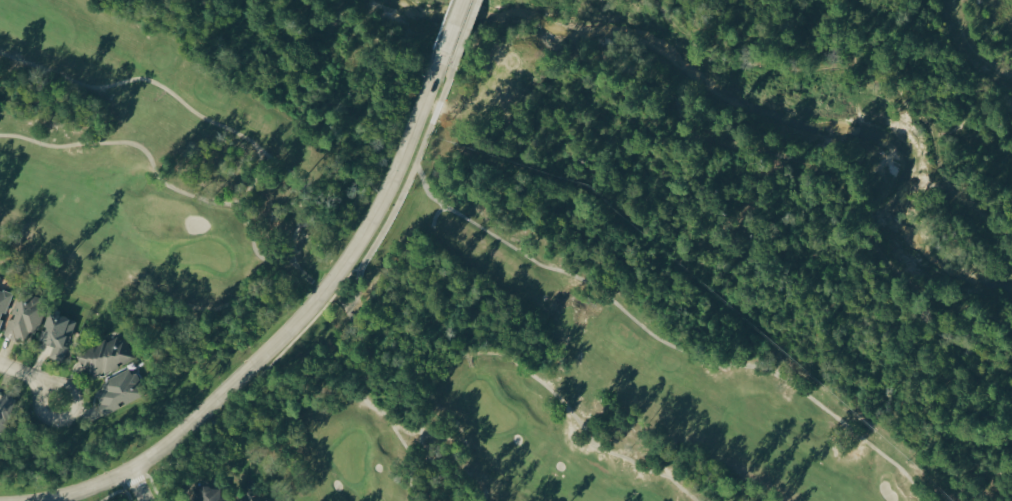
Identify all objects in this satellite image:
road: (452, 29)
road: (467, 32)
road: (973, 46)
road: (859, 69)
road: (167, 95)
river: (750, 103)
road: (168, 187)
park: (377, 291)
road: (337, 293)
road: (354, 303)
building: (4, 306)
building: (25, 320)
road: (293, 328)
building: (58, 337)
road: (665, 345)
building: (108, 358)
road: (515, 364)
road: (33, 377)
building: (121, 392)
road: (374, 409)
building: (5, 415)
road: (133, 481)
road: (137, 487)
building: (210, 495)
building: (251, 499)

